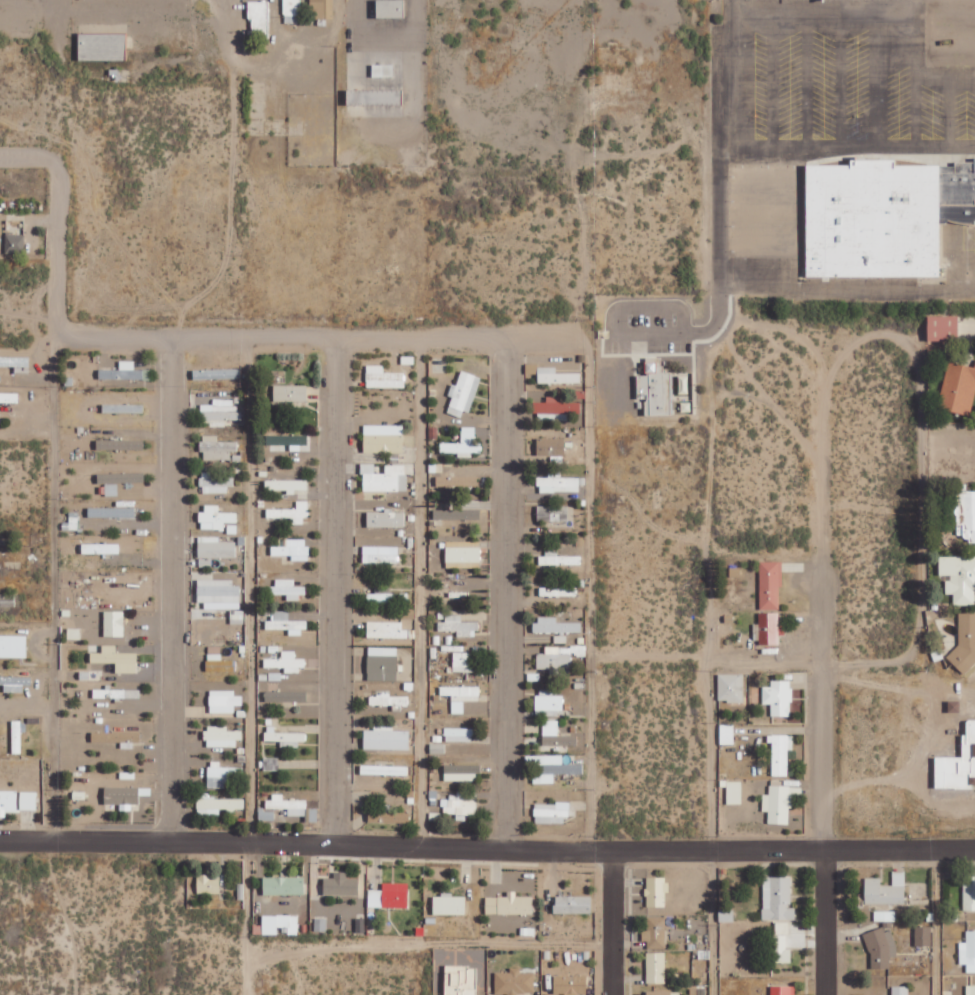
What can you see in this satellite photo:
building: (391, 8)
building: (322, 9)
building: (292, 11)
building: (258, 18)
building: (102, 46)
building: (382, 70)
building: (374, 96)
building: (884, 216)
building: (14, 243)
road: (763, 326)
building: (944, 328)
road: (320, 337)
building: (16, 363)
building: (125, 372)
building: (216, 374)
building: (557, 376)
building: (383, 378)
building: (656, 388)
building: (958, 388)
building: (290, 392)
building: (463, 394)
building: (9, 397)
building: (123, 408)
building: (220, 412)
building: (384, 438)
building: (287, 442)
building: (120, 444)
building: (463, 444)
building: (551, 446)
building: (217, 448)
building: (367, 468)
building: (121, 477)
building: (387, 479)
building: (457, 481)
building: (214, 483)
building: (558, 484)
building: (287, 485)
building: (111, 489)
road: (710, 497)
road: (53, 502)
building: (112, 512)
building: (291, 513)
building: (552, 513)
building: (457, 514)
building: (966, 514)
building: (215, 517)
building: (386, 518)
building: (72, 522)
building: (215, 547)
building: (100, 548)
building: (291, 548)
building: (463, 551)
building: (380, 554)
building: (558, 559)
building: (735, 571)
building: (959, 578)
building: (770, 585)
road: (170, 588)
building: (288, 588)
road: (335, 589)
building: (558, 591)
road: (417, 592)
building: (218, 593)
road: (506, 594)
road: (586, 594)
building: (387, 597)
building: (237, 616)
building: (114, 623)
building: (285, 623)
building: (458, 626)
building: (555, 626)
building: (767, 629)
building: (387, 630)
building: (73, 634)
road: (246, 636)
building: (965, 638)
building: (13, 646)
building: (559, 657)
building: (116, 659)
building: (286, 662)
building: (463, 662)
road: (824, 662)
building: (219, 663)
building: (382, 663)
building: (15, 683)
building: (731, 687)
building: (117, 693)
building: (285, 696)
building: (460, 696)
building: (778, 697)
building: (388, 700)
building: (224, 701)
building: (549, 703)
building: (954, 706)
building: (459, 734)
building: (555, 734)
building: (727, 734)
building: (17, 736)
building: (221, 736)
building: (116, 737)
building: (285, 737)
building: (386, 739)
building: (780, 753)
building: (270, 763)
building: (958, 764)
building: (552, 768)
building: (384, 770)
building: (461, 772)
building: (222, 774)
building: (734, 792)
building: (121, 795)
building: (28, 801)
building: (8, 802)
building: (218, 804)
building: (460, 804)
building: (289, 806)
building: (551, 813)
building: (266, 815)
building: (388, 815)
road: (487, 849)
building: (208, 883)
building: (341, 884)
building: (283, 885)
building: (886, 889)
building: (657, 891)
building: (969, 893)
building: (390, 895)
building: (778, 898)
building: (449, 904)
building: (509, 904)
building: (573, 904)
building: (726, 915)
building: (885, 915)
road: (612, 922)
building: (280, 923)
building: (320, 924)
building: (782, 927)
building: (655, 932)
building: (923, 935)
building: (881, 948)
building: (781, 949)
building: (968, 951)
building: (656, 967)
building: (461, 980)
building: (514, 982)
building: (570, 984)
building: (971, 989)
building: (783, 990)
building: (900, 990)
building: (659, 992)

